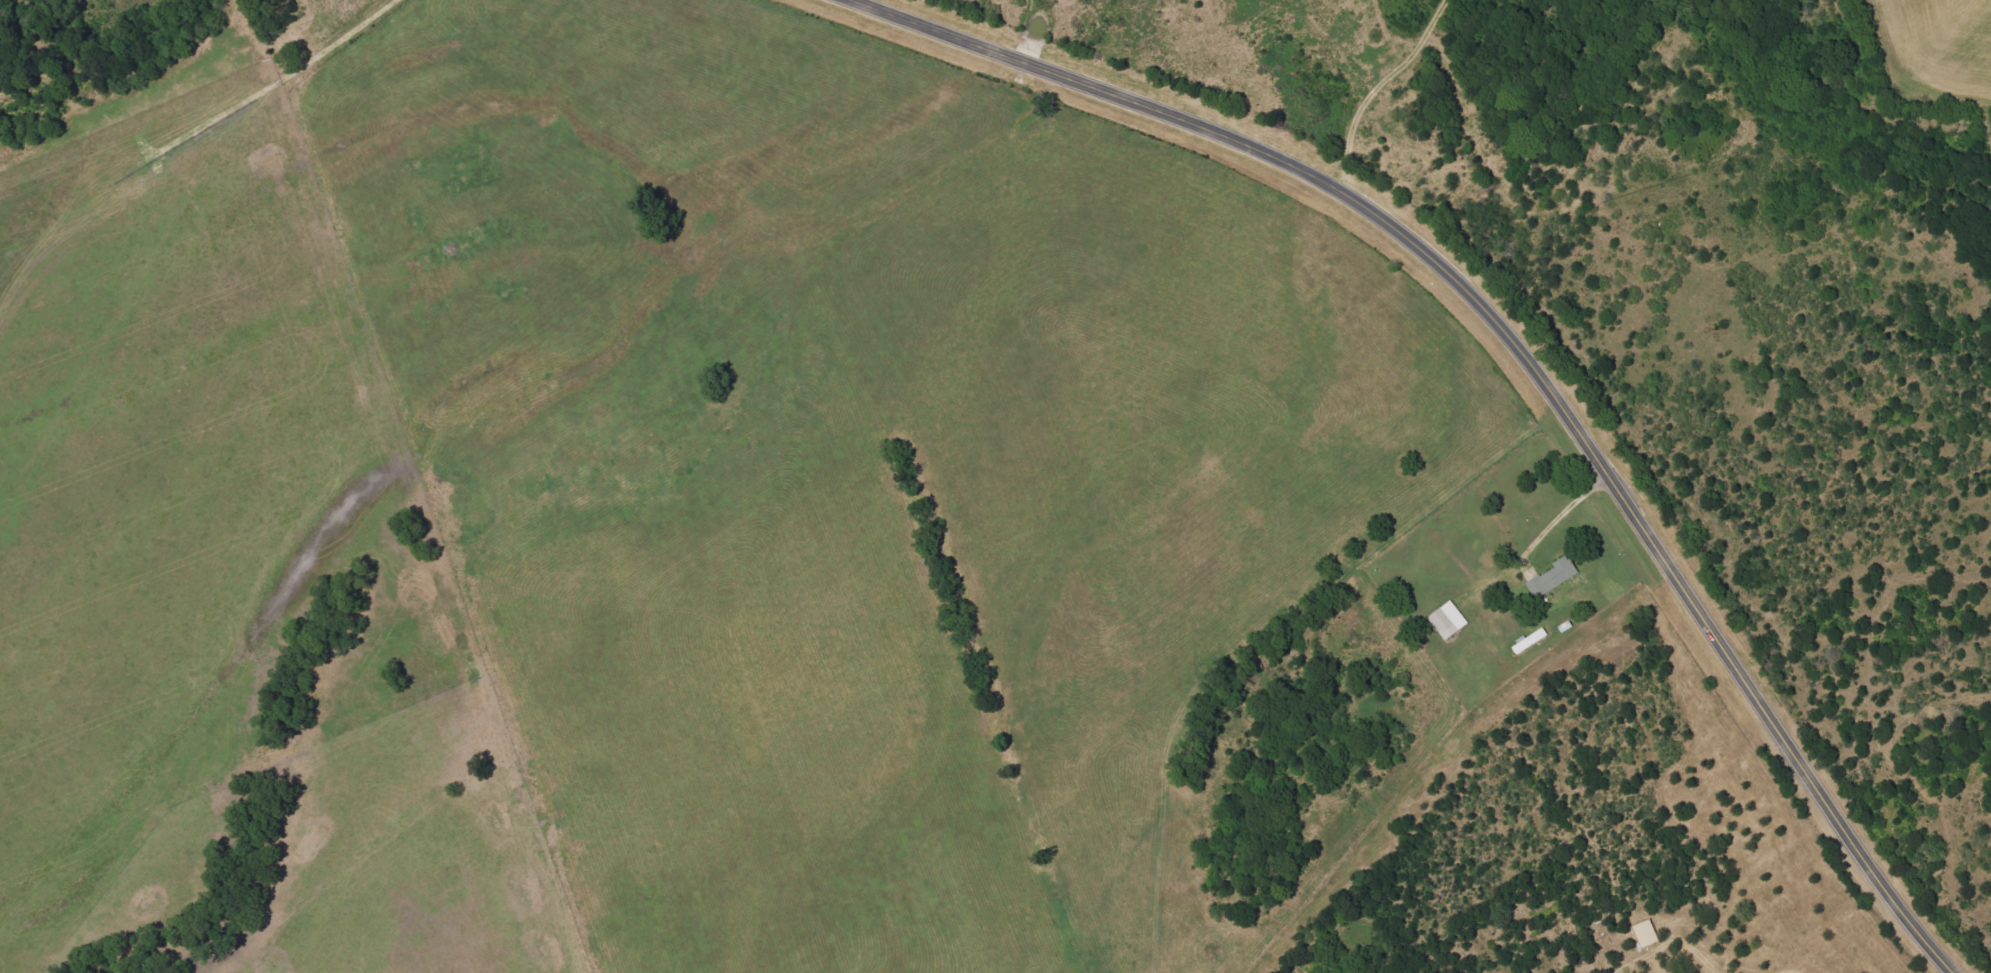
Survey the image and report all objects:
road: (1518, 349)
building: (1552, 576)
building: (1446, 620)
building: (1644, 933)

